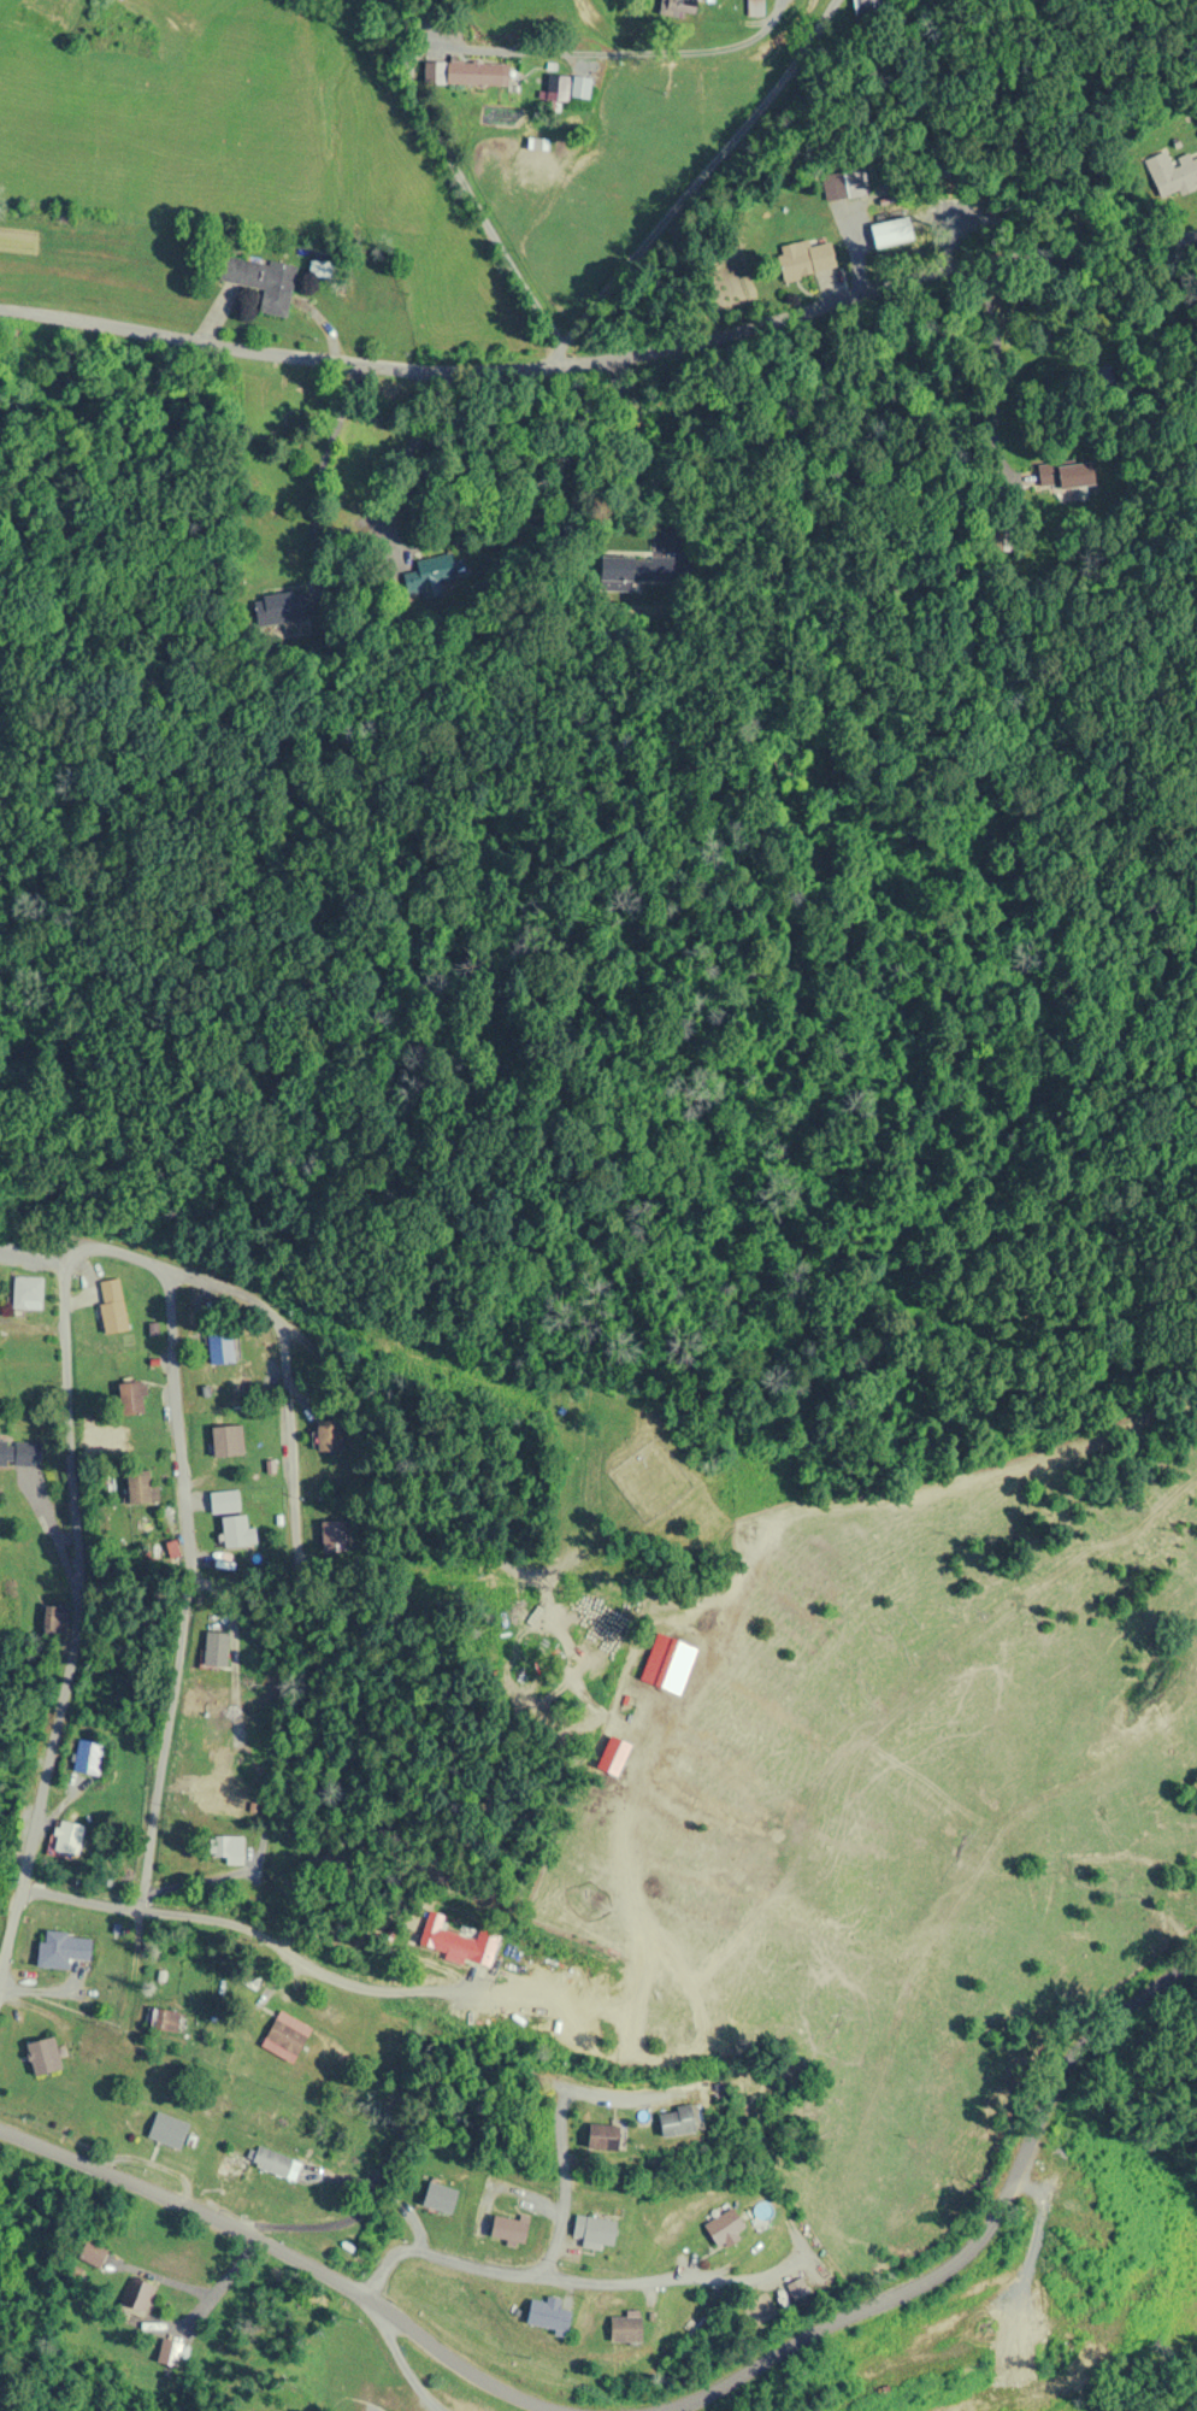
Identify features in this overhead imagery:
building: (677, 6)
building: (869, 6)
building: (755, 7)
building: (473, 72)
road: (412, 86)
building: (580, 87)
building: (556, 88)
building: (1172, 174)
building: (849, 183)
building: (804, 259)
building: (260, 281)
road: (73, 318)
road: (676, 340)
road: (185, 1276)
building: (26, 1293)
building: (112, 1311)
building: (219, 1347)
building: (131, 1399)
building: (226, 1441)
building: (19, 1454)
road: (290, 1471)
building: (141, 1488)
building: (235, 1531)
road: (189, 1589)
road: (73, 1616)
building: (216, 1651)
building: (670, 1663)
building: (87, 1757)
building: (220, 1795)
building: (65, 1839)
building: (226, 1846)
road: (247, 1931)
building: (456, 1941)
building: (63, 1950)
road: (36, 1997)
building: (170, 2021)
building: (285, 2035)
building: (42, 2056)
road: (602, 2099)
building: (680, 2119)
building: (167, 2130)
building: (605, 2136)
building: (249, 2164)
road: (550, 2182)
building: (438, 2198)
building: (725, 2228)
building: (508, 2229)
building: (594, 2229)
building: (92, 2253)
road: (963, 2253)
road: (290, 2264)
road: (576, 2275)
road: (385, 2277)
building: (135, 2295)
building: (548, 2313)
building: (625, 2328)
building: (169, 2352)

